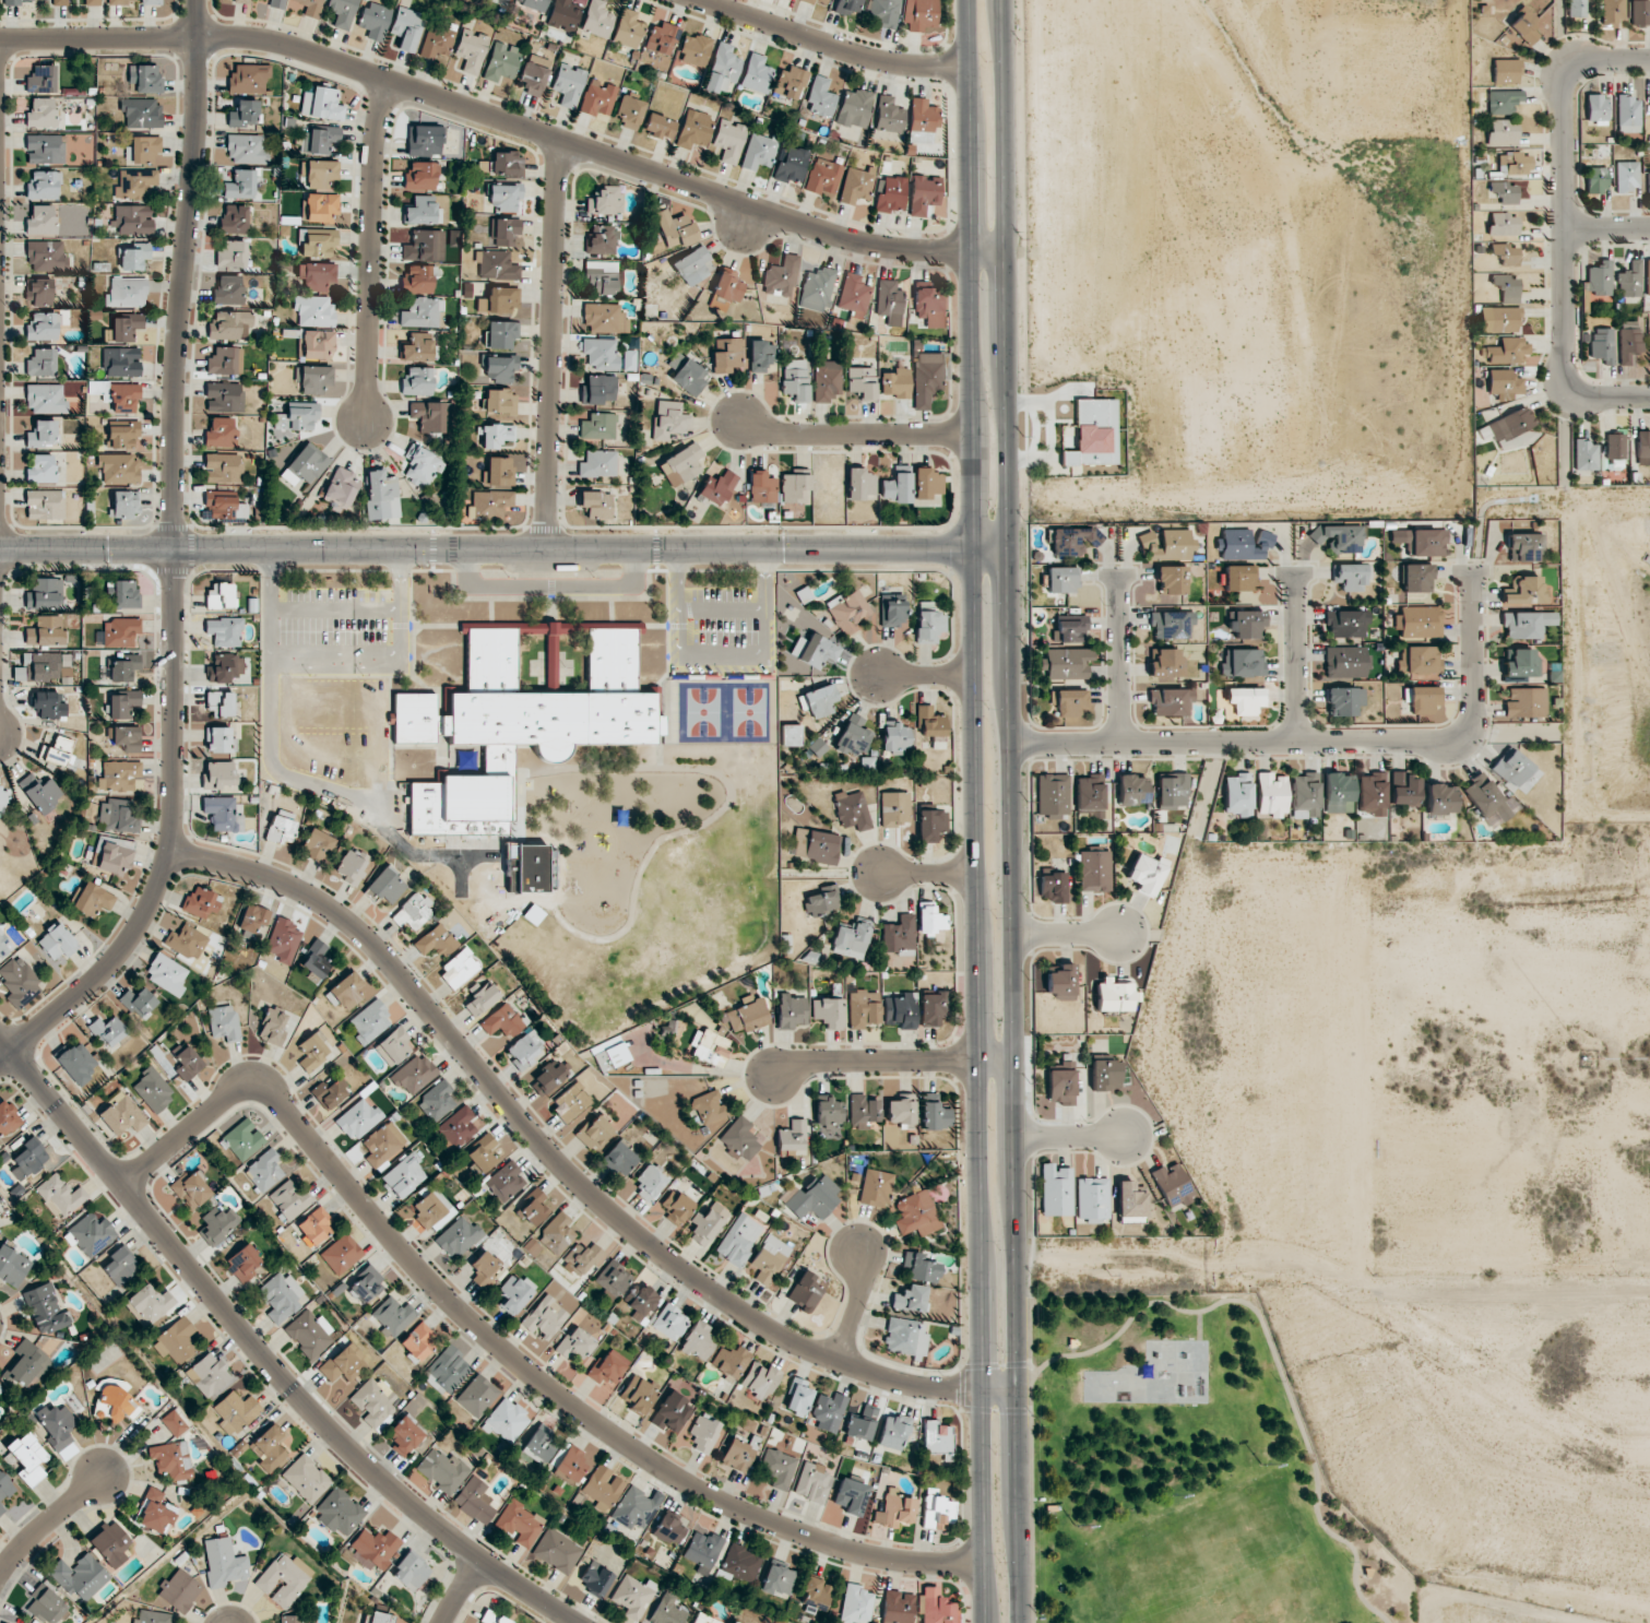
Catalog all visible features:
building: (509, 0)
building: (120, 1)
building: (241, 1)
building: (13, 2)
building: (59, 2)
building: (92, 2)
building: (153, 2)
building: (818, 2)
building: (276, 3)
building: (534, 4)
building: (846, 5)
building: (308, 7)
building: (1576, 8)
building: (342, 12)
building: (883, 12)
building: (1612, 12)
building: (1640, 13)
building: (565, 14)
building: (919, 14)
building: (597, 19)
building: (375, 20)
building: (1524, 25)
building: (406, 27)
building: (628, 28)
building: (662, 37)
building: (437, 39)
road: (831, 46)
building: (472, 50)
building: (695, 50)
building: (501, 61)
road: (1605, 61)
building: (723, 68)
building: (1506, 71)
building: (756, 73)
building: (534, 75)
building: (145, 78)
building: (40, 79)
building: (248, 79)
building: (790, 82)
building: (568, 83)
building: (597, 97)
building: (820, 97)
building: (1503, 100)
building: (321, 104)
building: (854, 108)
building: (1595, 108)
building: (630, 111)
building: (141, 112)
building: (41, 114)
building: (245, 114)
building: (1627, 114)
building: (889, 115)
road: (506, 120)
building: (922, 120)
building: (658, 126)
building: (692, 129)
building: (1503, 132)
building: (320, 140)
building: (425, 140)
building: (728, 140)
building: (45, 149)
building: (246, 149)
building: (143, 150)
building: (759, 152)
building: (1514, 163)
building: (507, 164)
building: (792, 165)
building: (322, 174)
building: (420, 176)
building: (1626, 176)
building: (823, 177)
building: (1595, 179)
building: (1648, 182)
building: (135, 183)
building: (43, 185)
building: (240, 185)
building: (856, 185)
building: (1504, 191)
building: (924, 193)
building: (891, 194)
building: (505, 197)
building: (605, 201)
building: (322, 208)
building: (423, 211)
building: (234, 218)
building: (132, 220)
building: (41, 221)
road: (745, 221)
building: (1503, 224)
building: (675, 228)
road: (1564, 228)
road: (1607, 229)
building: (503, 230)
building: (602, 239)
building: (318, 242)
building: (425, 246)
road: (371, 250)
building: (232, 254)
building: (1504, 254)
building: (45, 256)
building: (133, 256)
building: (497, 265)
building: (691, 265)
road: (969, 274)
building: (1648, 276)
building: (600, 277)
building: (781, 277)
building: (1599, 277)
building: (419, 279)
building: (1629, 280)
building: (728, 285)
building: (1506, 287)
building: (228, 289)
building: (817, 289)
building: (38, 291)
building: (127, 293)
building: (853, 295)
building: (889, 301)
building: (929, 306)
building: (313, 310)
building: (422, 311)
building: (605, 318)
building: (1504, 319)
building: (229, 325)
building: (43, 327)
building: (123, 328)
building: (501, 334)
building: (1629, 341)
building: (317, 344)
road: (553, 344)
building: (1602, 344)
building: (417, 348)
building: (1506, 351)
building: (600, 354)
building: (727, 355)
building: (760, 355)
building: (225, 360)
building: (676, 360)
building: (121, 362)
building: (40, 363)
building: (499, 367)
building: (312, 377)
building: (689, 377)
building: (926, 378)
building: (794, 379)
building: (827, 380)
building: (417, 381)
building: (895, 381)
building: (860, 382)
building: (1504, 382)
building: (598, 389)
road: (1607, 394)
building: (124, 398)
building: (224, 398)
building: (45, 399)
building: (500, 402)
building: (430, 416)
building: (296, 417)
building: (669, 419)
building: (1511, 424)
building: (598, 426)
building: (1096, 430)
building: (219, 433)
building: (43, 434)
building: (121, 435)
building: (496, 435)
road: (853, 435)
building: (1615, 447)
building: (1643, 447)
building: (1586, 455)
building: (1069, 458)
building: (598, 464)
building: (682, 464)
building: (305, 465)
building: (422, 466)
building: (118, 467)
building: (223, 467)
building: (41, 469)
building: (499, 471)
building: (926, 483)
building: (860, 484)
building: (342, 486)
building: (897, 486)
building: (716, 487)
building: (762, 487)
building: (794, 487)
building: (381, 495)
building: (126, 504)
building: (596, 504)
building: (44, 505)
building: (490, 505)
building: (224, 507)
building: (1338, 537)
building: (1070, 541)
building: (1422, 541)
building: (1168, 544)
building: (1244, 544)
building: (1524, 547)
road: (486, 549)
road: (990, 549)
road: (174, 562)
building: (1351, 576)
building: (1239, 578)
building: (1416, 578)
building: (1063, 579)
building: (1172, 580)
building: (123, 593)
building: (45, 594)
building: (221, 595)
building: (847, 611)
building: (892, 612)
building: (1418, 621)
building: (1172, 624)
building: (1346, 624)
building: (1526, 624)
building: (1247, 625)
building: (929, 627)
building: (1069, 628)
building: (46, 630)
building: (223, 630)
building: (121, 632)
building: (815, 650)
road: (333, 655)
road: (1294, 658)
road: (1115, 660)
building: (1418, 660)
building: (1165, 662)
building: (1345, 662)
building: (1066, 663)
building: (1243, 663)
building: (1520, 663)
building: (38, 666)
building: (122, 667)
building: (224, 667)
road: (925, 675)
building: (1422, 698)
building: (1246, 700)
building: (1344, 700)
building: (818, 701)
building: (1069, 701)
building: (1171, 701)
building: (1524, 702)
building: (122, 704)
building: (219, 704)
building: (49, 706)
building: (930, 722)
building: (519, 723)
building: (791, 735)
building: (853, 736)
building: (126, 737)
building: (894, 737)
building: (219, 741)
road: (1317, 744)
building: (58, 750)
building: (1514, 769)
building: (219, 774)
building: (118, 775)
building: (1404, 789)
building: (1132, 790)
building: (40, 792)
building: (1173, 792)
building: (1338, 793)
building: (1053, 794)
building: (1237, 794)
building: (1271, 794)
building: (1305, 794)
building: (1372, 794)
building: (1090, 795)
building: (2, 799)
building: (1440, 799)
building: (1489, 801)
building: (895, 808)
building: (853, 810)
road: (1012, 811)
building: (223, 814)
building: (118, 817)
building: (930, 825)
building: (280, 829)
building: (119, 841)
building: (316, 844)
building: (816, 845)
building: (115, 858)
building: (351, 866)
building: (1095, 870)
road: (928, 874)
building: (1147, 874)
building: (385, 886)
building: (1054, 887)
building: (93, 899)
building: (822, 901)
building: (201, 902)
building: (413, 911)
building: (930, 919)
building: (253, 920)
road: (1066, 934)
building: (899, 936)
building: (283, 940)
building: (436, 940)
building: (851, 940)
building: (186, 941)
building: (58, 943)
building: (4, 945)
building: (314, 959)
building: (458, 969)
building: (166, 973)
building: (20, 981)
building: (1061, 982)
building: (346, 992)
building: (1113, 995)
building: (482, 997)
building: (139, 1002)
building: (864, 1008)
building: (933, 1008)
building: (900, 1009)
building: (791, 1010)
building: (828, 1012)
building: (748, 1015)
building: (369, 1021)
building: (502, 1021)
building: (223, 1022)
building: (273, 1026)
building: (107, 1031)
road: (5, 1044)
building: (395, 1044)
building: (710, 1046)
building: (524, 1049)
building: (313, 1051)
building: (610, 1055)
road: (892, 1061)
building: (76, 1062)
building: (188, 1064)
building: (414, 1074)
building: (1106, 1075)
building: (546, 1079)
road: (976, 1086)
building: (1061, 1087)
building: (153, 1090)
building: (329, 1094)
building: (437, 1101)
building: (571, 1102)
building: (710, 1109)
building: (863, 1111)
building: (901, 1111)
building: (934, 1113)
building: (121, 1115)
building: (829, 1117)
building: (8, 1118)
building: (358, 1118)
building: (458, 1126)
building: (593, 1132)
road: (1069, 1135)
building: (792, 1136)
building: (740, 1138)
building: (242, 1139)
building: (383, 1144)
building: (482, 1153)
building: (619, 1158)
building: (28, 1159)
road: (562, 1168)
building: (264, 1170)
building: (404, 1176)
building: (503, 1182)
building: (649, 1182)
building: (1173, 1186)
building: (875, 1187)
building: (192, 1188)
building: (1056, 1190)
building: (60, 1195)
building: (814, 1197)
building: (289, 1199)
building: (1092, 1199)
building: (1129, 1200)
building: (534, 1206)
building: (676, 1207)
building: (431, 1210)
building: (915, 1213)
building: (217, 1223)
building: (708, 1223)
building: (314, 1225)
building: (91, 1234)
building: (556, 1234)
building: (458, 1237)
building: (738, 1240)
building: (341, 1254)
building: (582, 1258)
building: (768, 1258)
building: (245, 1260)
building: (12, 1266)
building: (120, 1266)
building: (484, 1267)
building: (919, 1268)
building: (612, 1279)
building: (365, 1283)
building: (806, 1290)
building: (514, 1293)
building: (281, 1296)
building: (910, 1299)
building: (640, 1301)
building: (149, 1304)
road: (857, 1306)
building: (46, 1308)
building: (393, 1315)
building: (545, 1317)
building: (669, 1322)
road: (1200, 1326)
building: (309, 1334)
building: (905, 1337)
building: (418, 1340)
building: (177, 1341)
building: (698, 1341)
building: (573, 1346)
road: (508, 1352)
road: (1273, 1352)
building: (729, 1361)
road: (268, 1362)
building: (344, 1363)
building: (27, 1364)
road: (1023, 1364)
building: (608, 1369)
building: (447, 1370)
building: (207, 1374)
park: (1155, 1377)
building: (758, 1379)
road: (1030, 1379)
building: (639, 1394)
building: (477, 1396)
building: (798, 1397)
building: (373, 1400)
building: (236, 1410)
road: (1024, 1410)
building: (829, 1411)
building: (672, 1412)
building: (507, 1421)
building: (174, 1423)
building: (862, 1423)
building: (56, 1424)
building: (893, 1432)
building: (704, 1433)
building: (404, 1435)
building: (937, 1438)
building: (538, 1447)
building: (268, 1448)
building: (739, 1454)
building: (28, 1458)
building: (171, 1460)
building: (571, 1464)
building: (777, 1467)
building: (442, 1470)
park: (1186, 1473)
building: (306, 1478)
building: (812, 1482)
building: (603, 1488)
building: (4, 1490)
building: (851, 1495)
building: (475, 1500)
building: (636, 1507)
building: (894, 1509)
building: (936, 1509)
building: (339, 1512)
building: (156, 1513)
road: (48, 1519)
building: (519, 1523)
building: (668, 1528)
building: (110, 1543)
building: (373, 1549)
building: (703, 1550)
building: (557, 1551)
building: (224, 1562)
building: (741, 1563)
building: (411, 1571)
building: (79, 1576)
building: (284, 1578)
building: (595, 1578)
building: (777, 1579)
building: (179, 1590)
road: (461, 1591)
building: (815, 1594)
building: (632, 1596)
building: (46, 1604)
building: (855, 1604)
building: (898, 1607)
building: (935, 1607)
building: (667, 1610)
building: (153, 1618)
building: (377, 1618)
building: (492, 1618)
building: (296, 1619)
building: (704, 1619)

